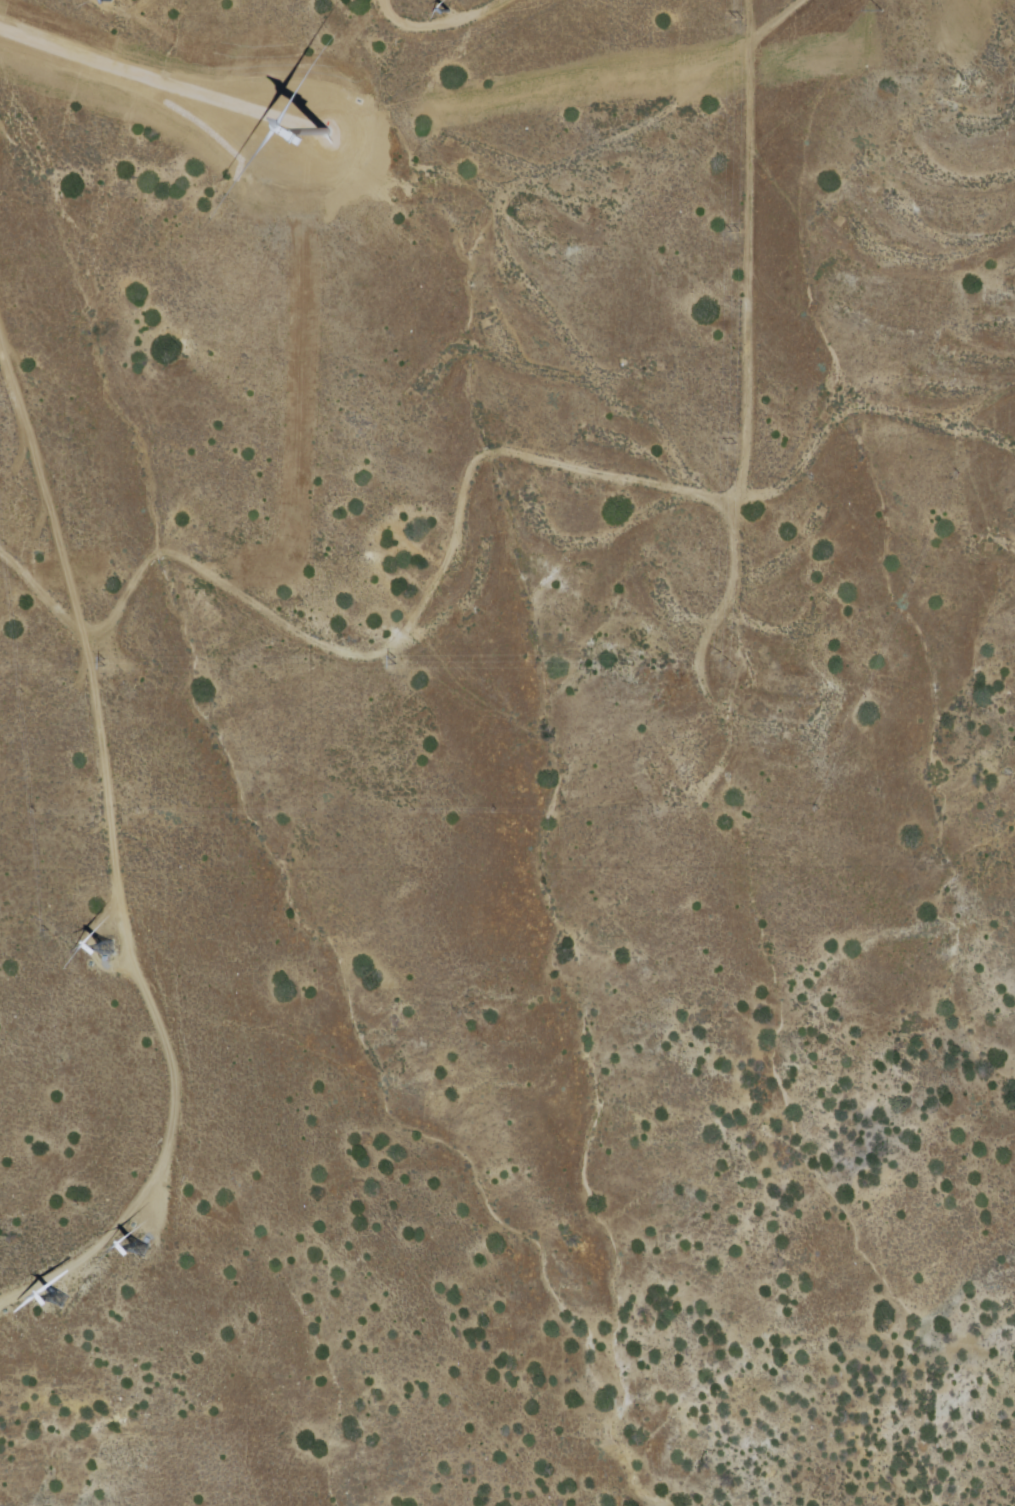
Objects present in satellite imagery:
wind turbine: (107, 0)
wind turbine: (446, 11)
road: (438, 23)
wind turbine: (330, 139)
wind turbine: (100, 952)
wind turbine: (139, 1251)
wind turbine: (56, 1301)

